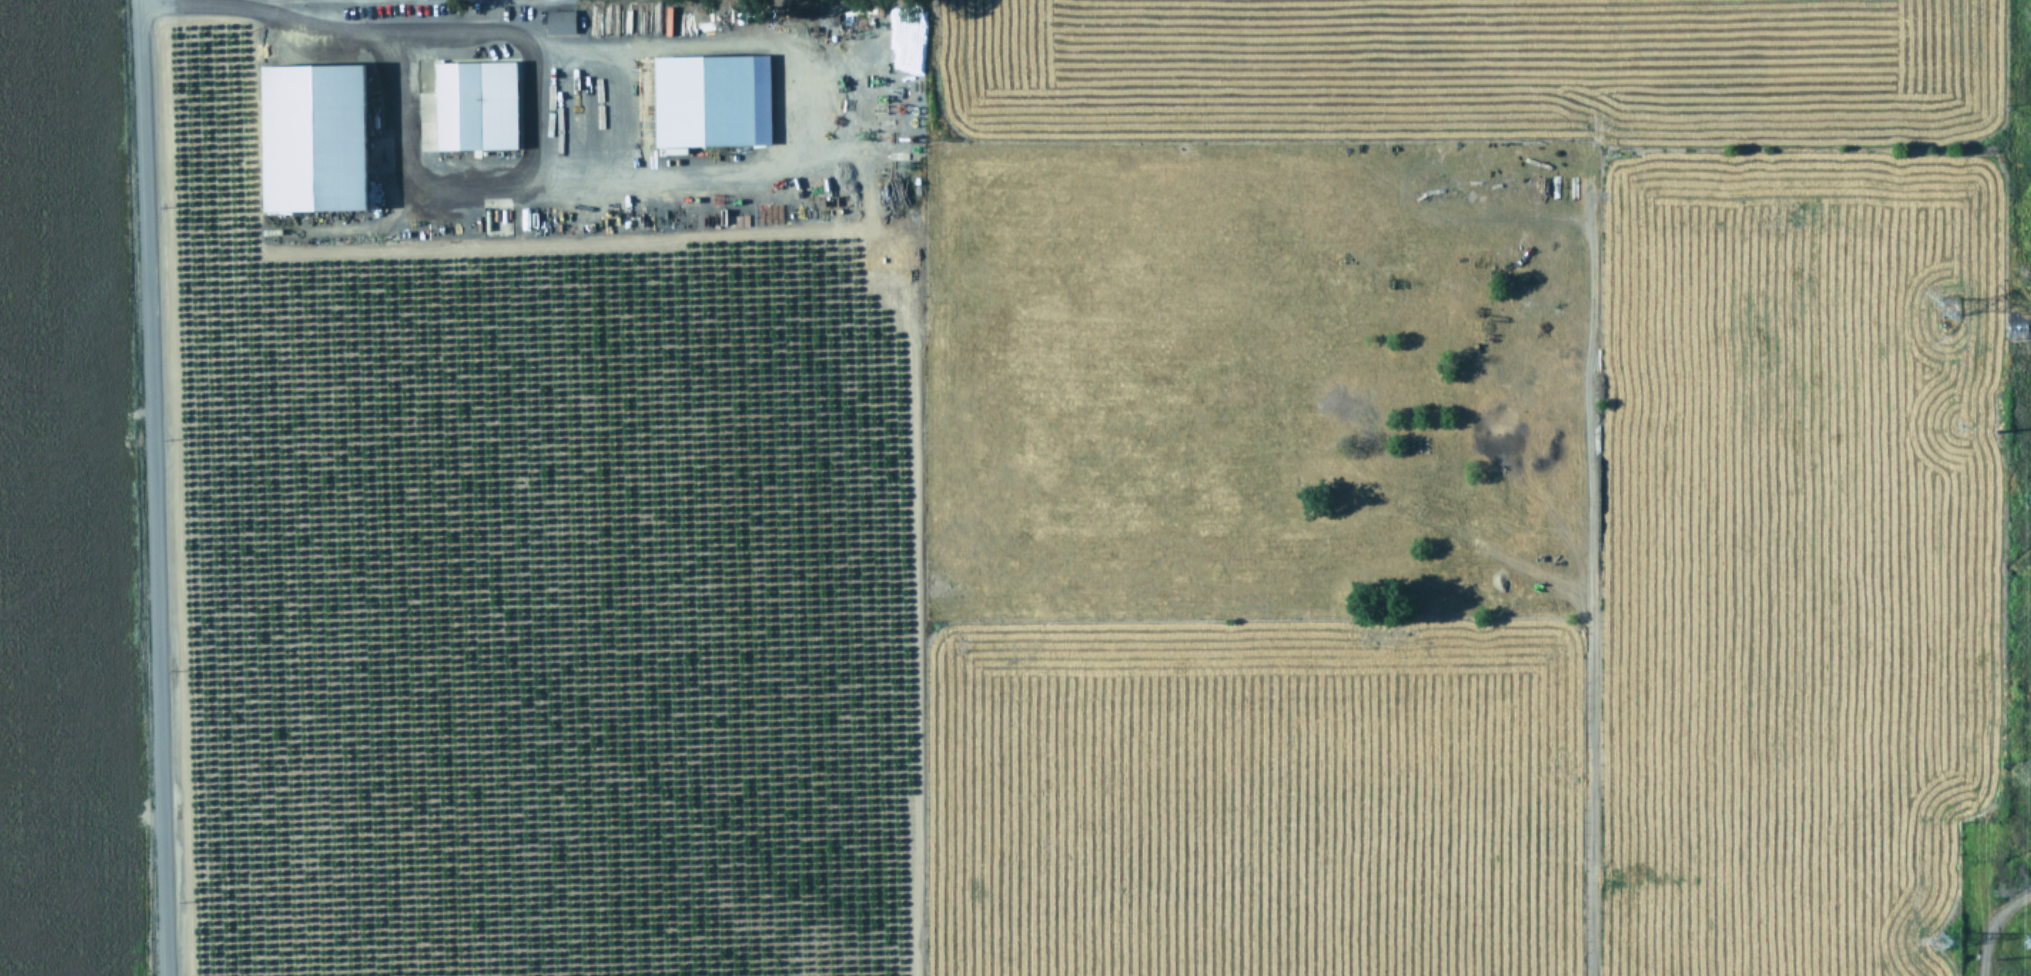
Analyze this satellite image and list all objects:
road: (533, 0)
road: (281, 4)
road: (273, 10)
road: (523, 18)
building: (559, 19)
building: (702, 97)
building: (474, 102)
road: (810, 102)
road: (536, 186)
power tower: (1941, 303)
power tower: (1994, 428)
road: (151, 488)
crop: (1015, 488)
road: (1987, 922)
power tower: (1936, 938)
power tower: (1991, 956)

